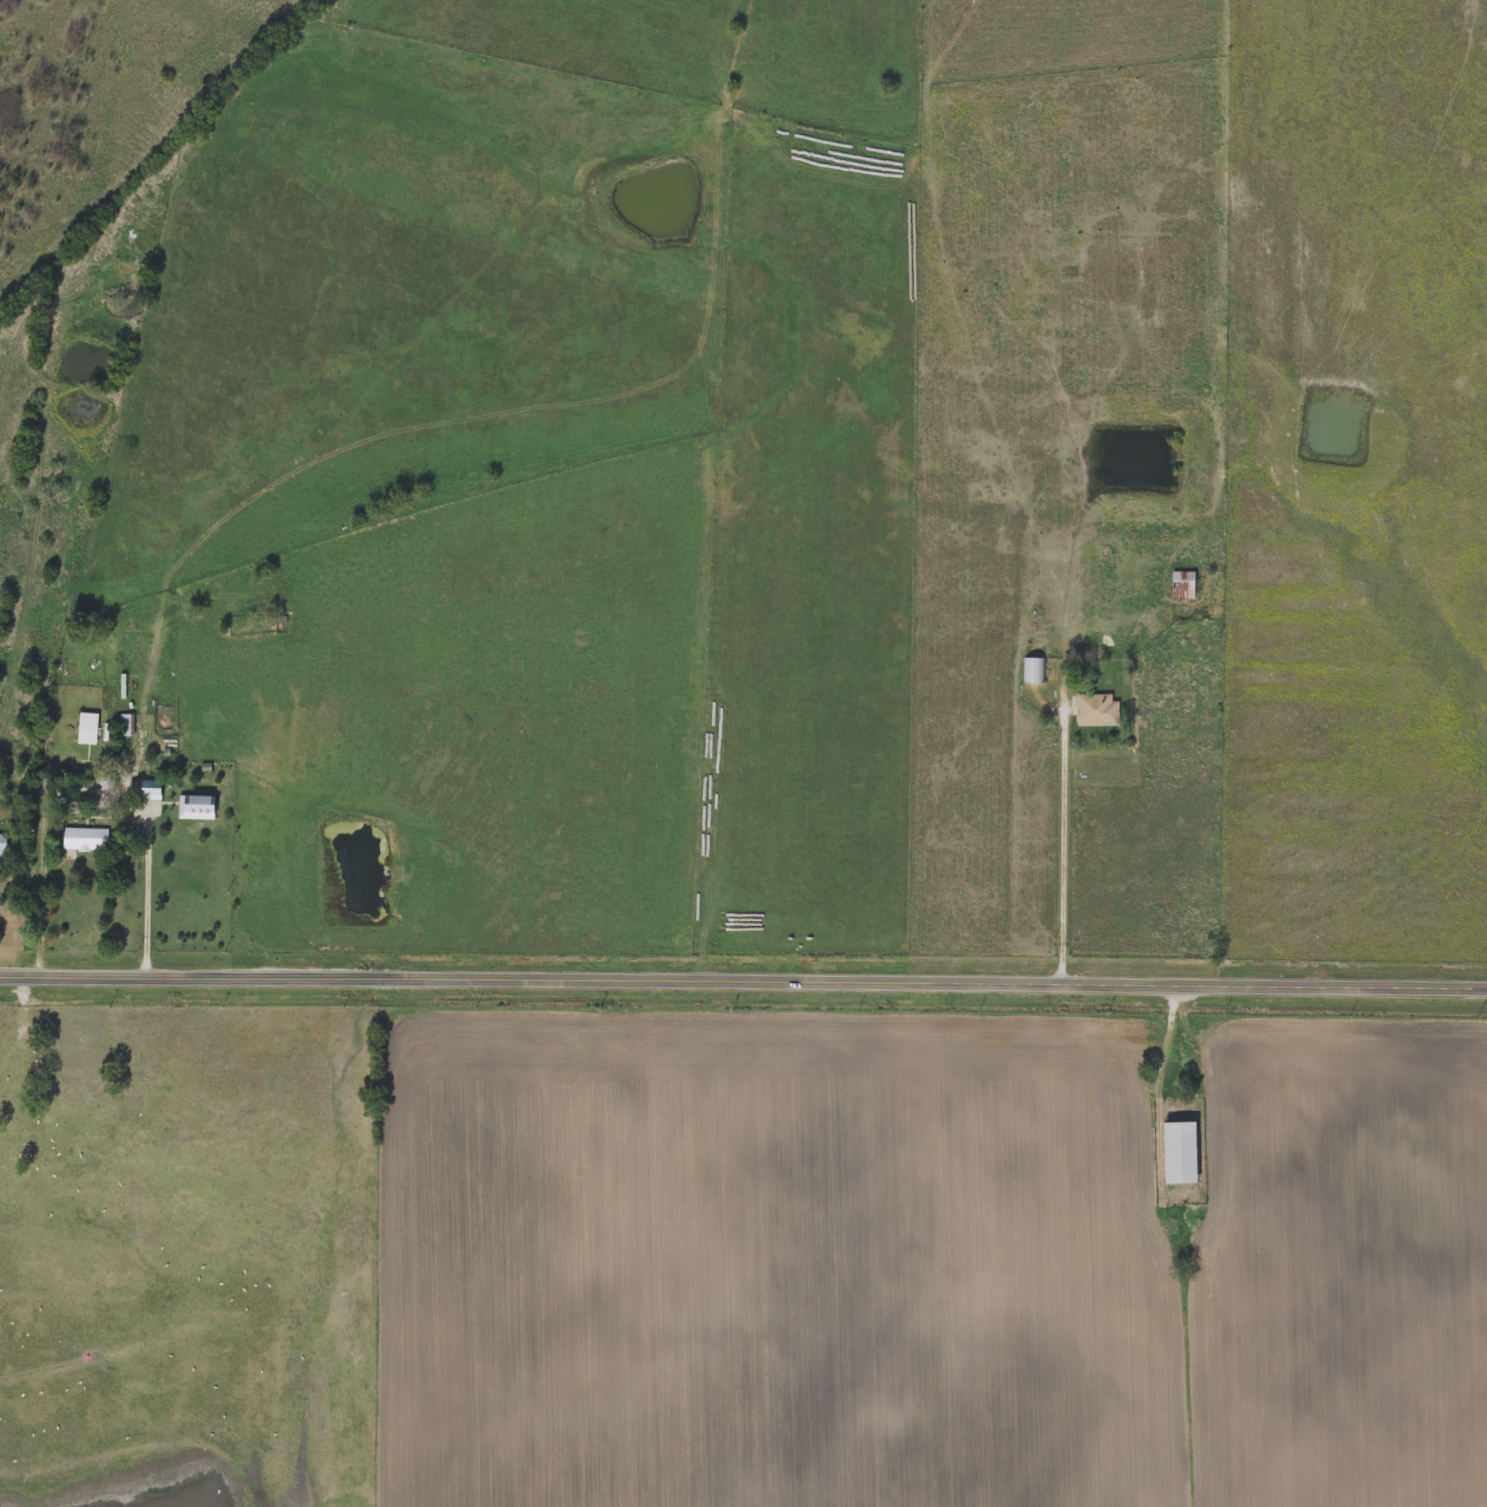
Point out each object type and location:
building: (1181, 585)
building: (276, 620)
building: (1032, 669)
building: (1096, 710)
building: (126, 724)
building: (87, 728)
building: (150, 791)
building: (195, 807)
building: (84, 839)
road: (1065, 839)
building: (2, 845)
road: (149, 899)
road: (44, 900)
road: (743, 979)
building: (14, 1048)
building: (0, 1108)
building: (83, 1150)
building: (2, 1152)
building: (1178, 1153)

